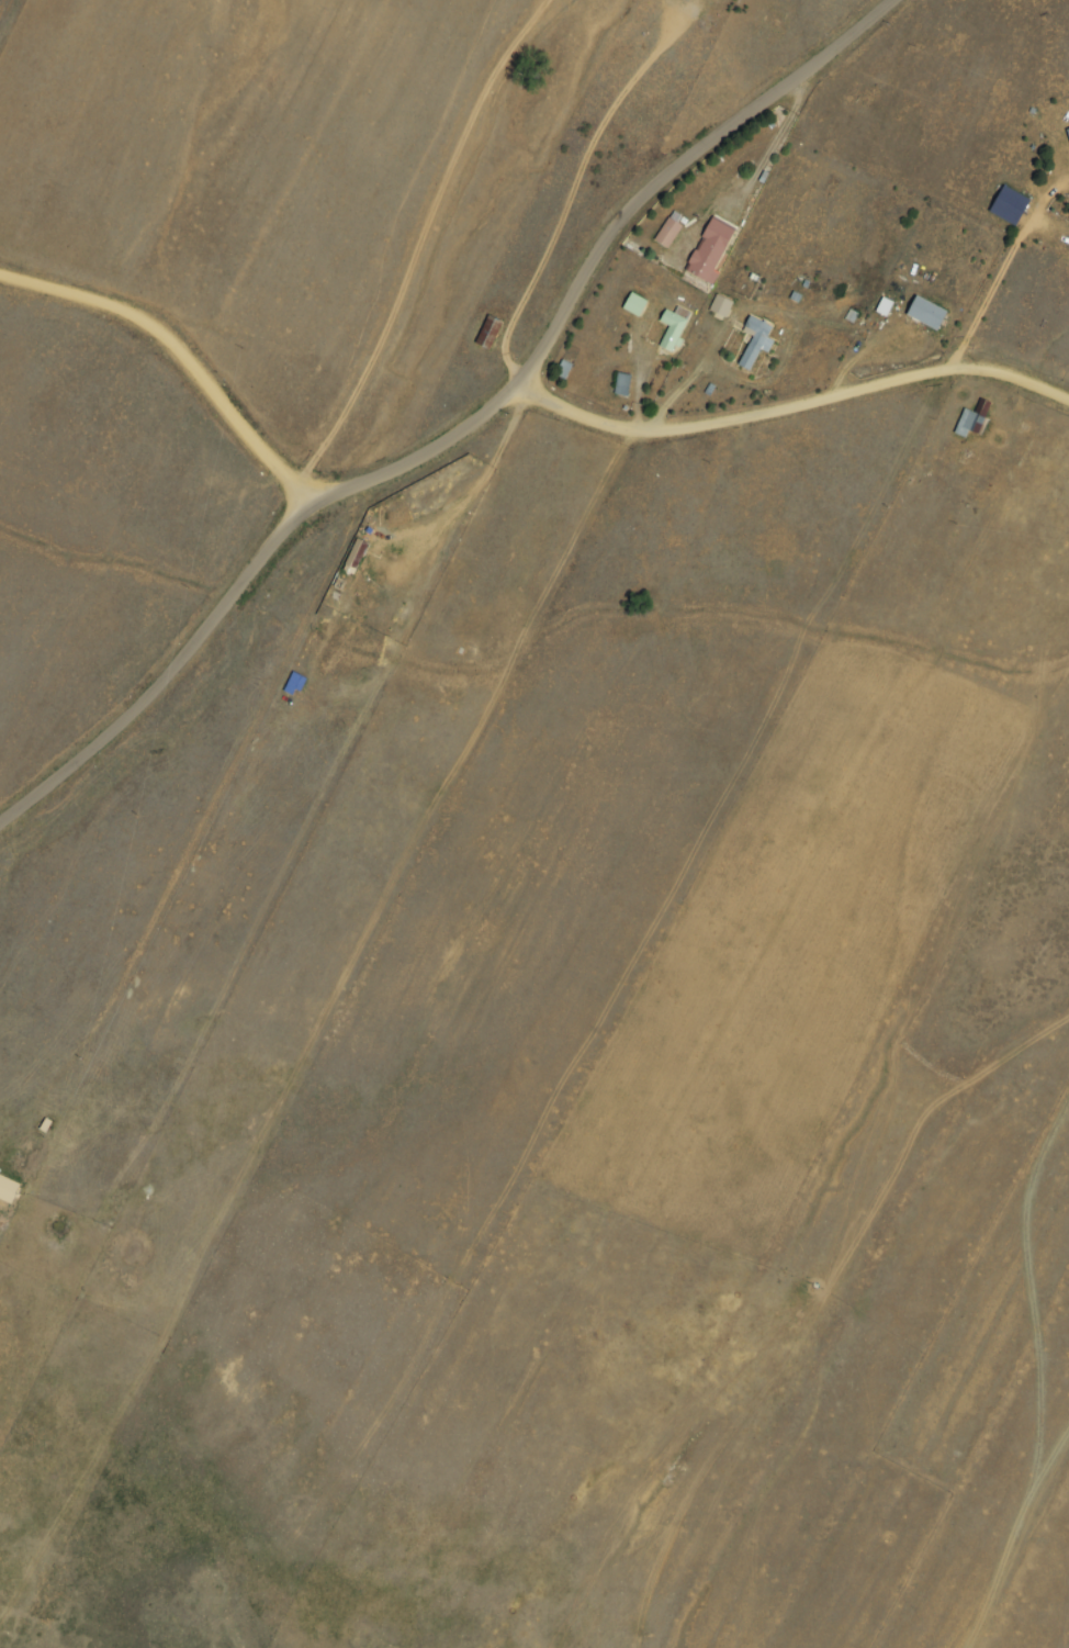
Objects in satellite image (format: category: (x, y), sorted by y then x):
road: (5, 12)
building: (1068, 131)
building: (1010, 205)
building: (669, 229)
building: (710, 250)
building: (634, 305)
building: (721, 306)
building: (926, 313)
building: (673, 328)
building: (488, 333)
building: (755, 341)
road: (172, 347)
building: (563, 370)
building: (622, 385)
road: (813, 392)
road: (480, 413)
building: (972, 419)
building: (356, 554)

